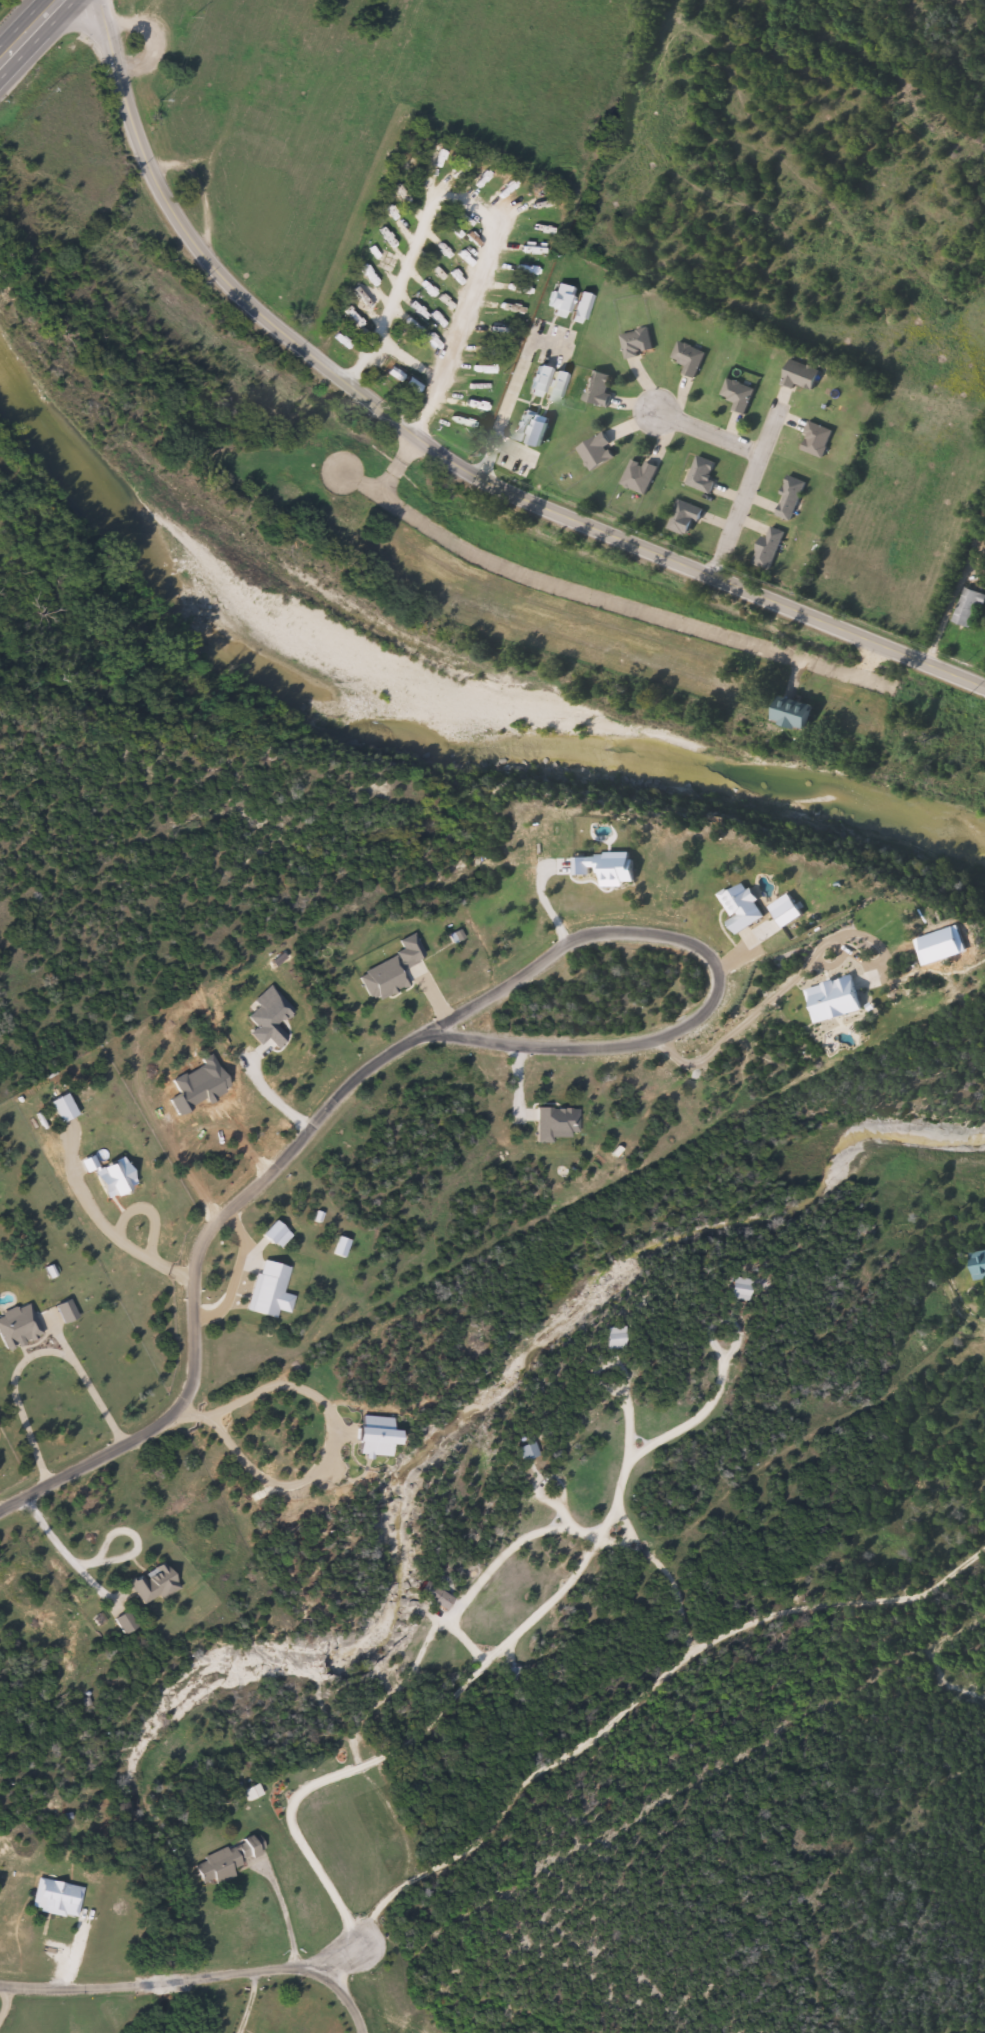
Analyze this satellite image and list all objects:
road: (87, 25)
road: (36, 35)
road: (338, 162)
road: (478, 206)
road: (207, 252)
building: (369, 293)
building: (396, 315)
building: (640, 344)
road: (406, 358)
building: (691, 359)
building: (404, 366)
building: (803, 376)
building: (602, 389)
building: (740, 395)
road: (707, 433)
building: (820, 440)
building: (514, 445)
building: (600, 453)
road: (396, 466)
building: (706, 474)
building: (643, 476)
road: (749, 491)
building: (794, 498)
building: (689, 519)
building: (772, 548)
road: (695, 569)
road: (610, 602)
building: (972, 608)
building: (800, 714)
road: (715, 968)
building: (980, 1264)
road: (192, 1273)
building: (157, 1584)
building: (438, 1594)
building: (255, 1792)
building: (220, 1865)
building: (59, 1897)
road: (358, 1956)
road: (351, 2002)
road: (52, 2011)

